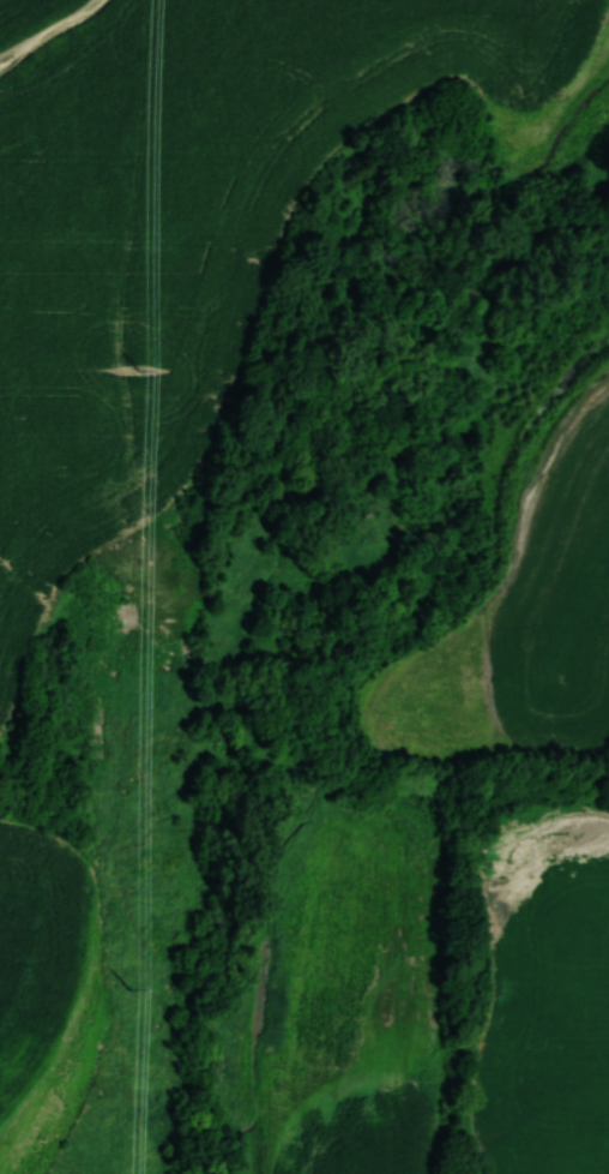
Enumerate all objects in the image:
power tower: (139, 376)
power tower: (127, 984)

